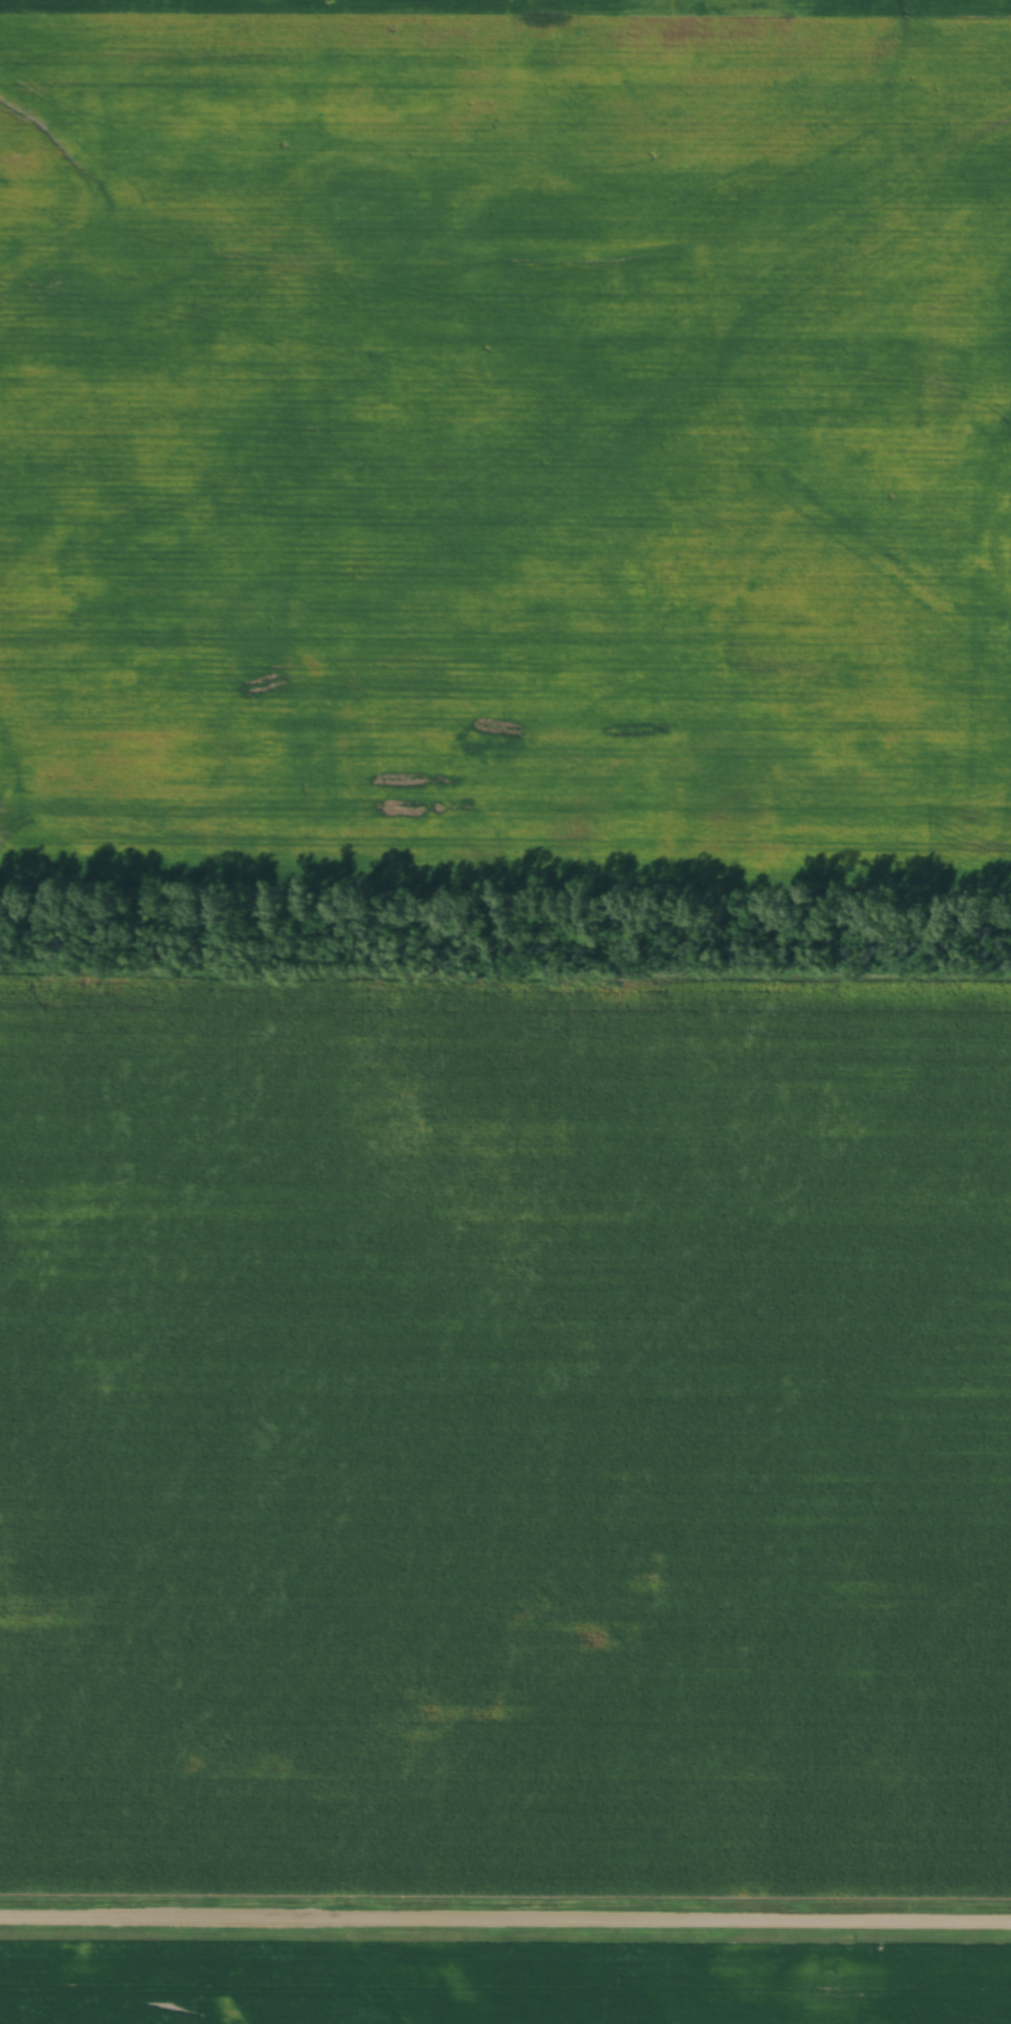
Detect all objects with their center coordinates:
road: (505, 1923)

